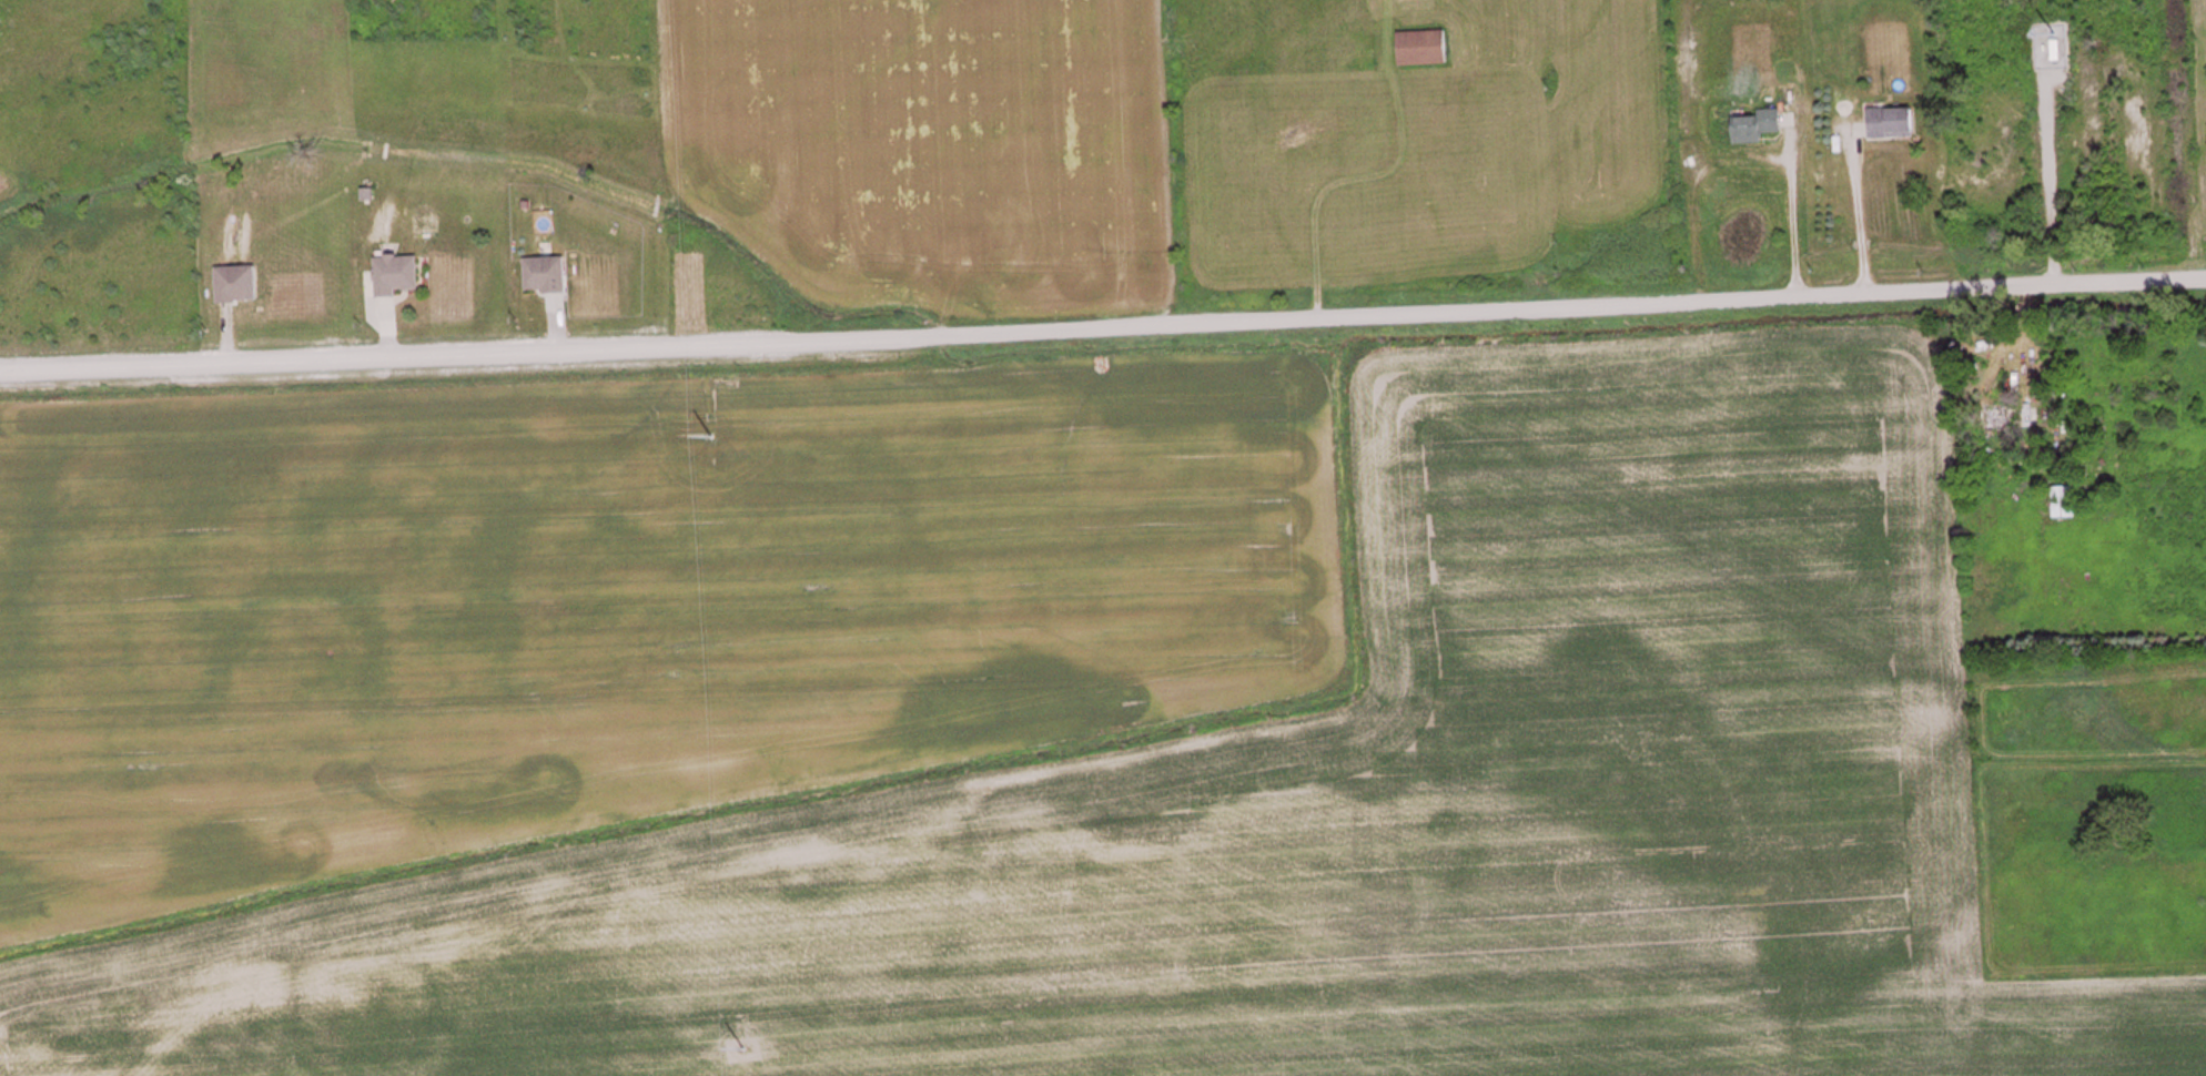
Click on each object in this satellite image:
building: (1425, 50)
building: (2061, 54)
building: (1896, 123)
building: (1758, 126)
building: (401, 277)
building: (549, 277)
building: (241, 286)
road: (1102, 323)
building: (2013, 418)
power tower: (716, 437)
building: (2066, 504)
power tower: (747, 1048)

